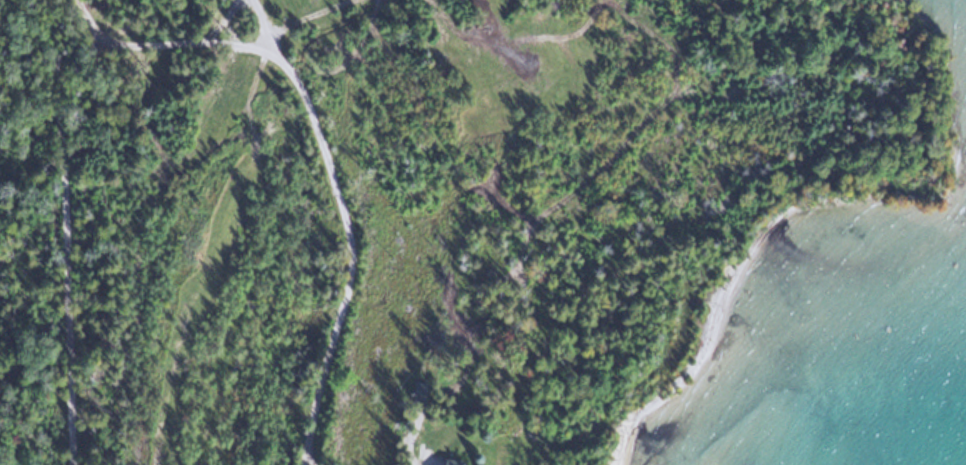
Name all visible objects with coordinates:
road: (280, 45)
road: (25, 69)
road: (333, 160)
park: (18, 235)
road: (74, 277)
building: (462, 463)

